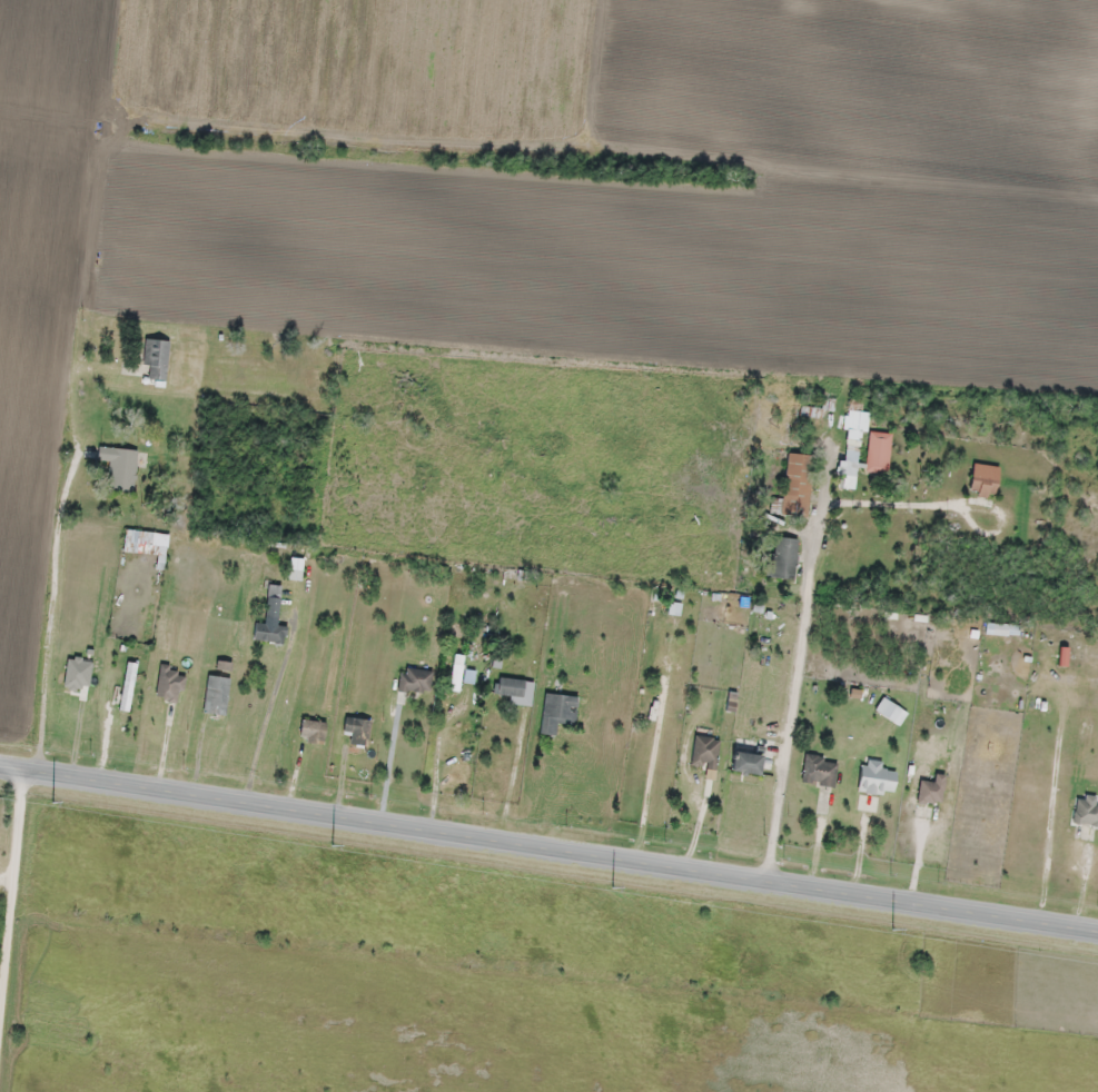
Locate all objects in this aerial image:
building: (156, 356)
building: (853, 416)
building: (878, 451)
building: (119, 465)
building: (982, 478)
building: (795, 484)
building: (782, 557)
road: (57, 570)
building: (270, 617)
building: (456, 671)
building: (415, 678)
building: (169, 683)
building: (127, 685)
building: (510, 685)
building: (557, 711)
road: (785, 735)
building: (704, 751)
building: (744, 762)
building: (818, 771)
building: (873, 783)
building: (1085, 812)
road: (548, 848)
road: (11, 880)

